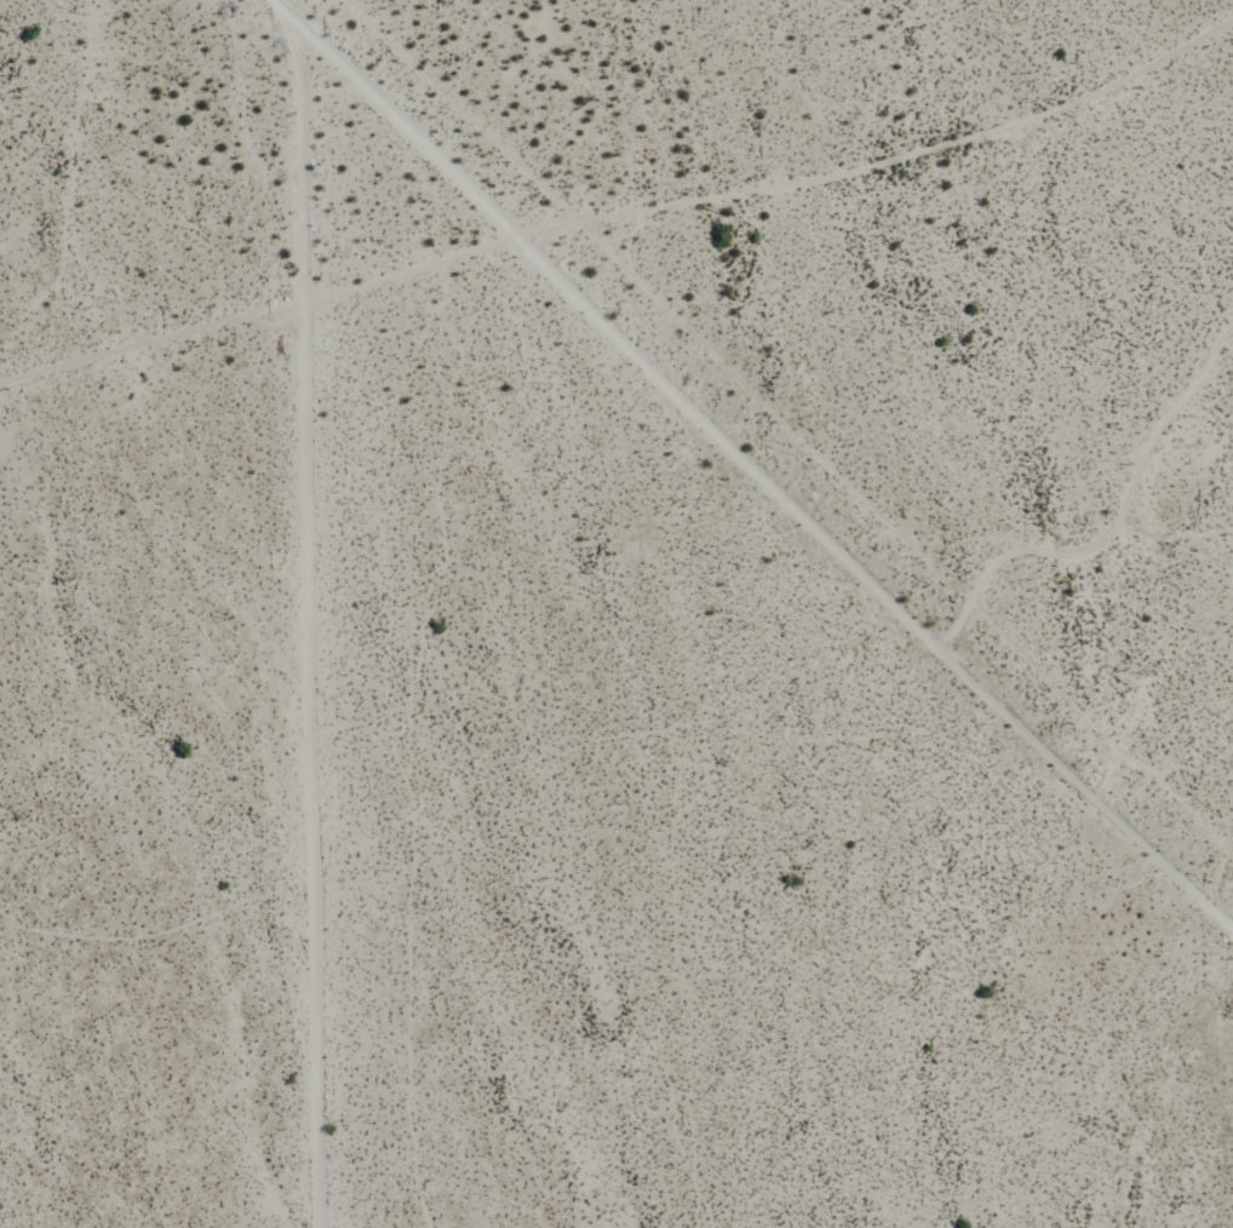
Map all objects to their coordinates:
road: (621, 212)
road: (746, 470)
road: (1109, 526)
road: (302, 629)

